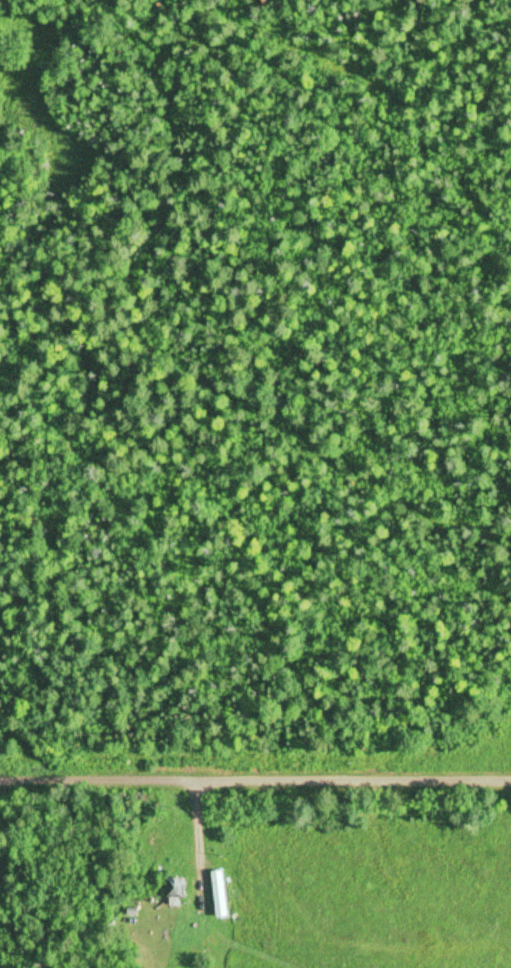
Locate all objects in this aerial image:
road: (255, 769)
building: (172, 885)
building: (216, 911)

